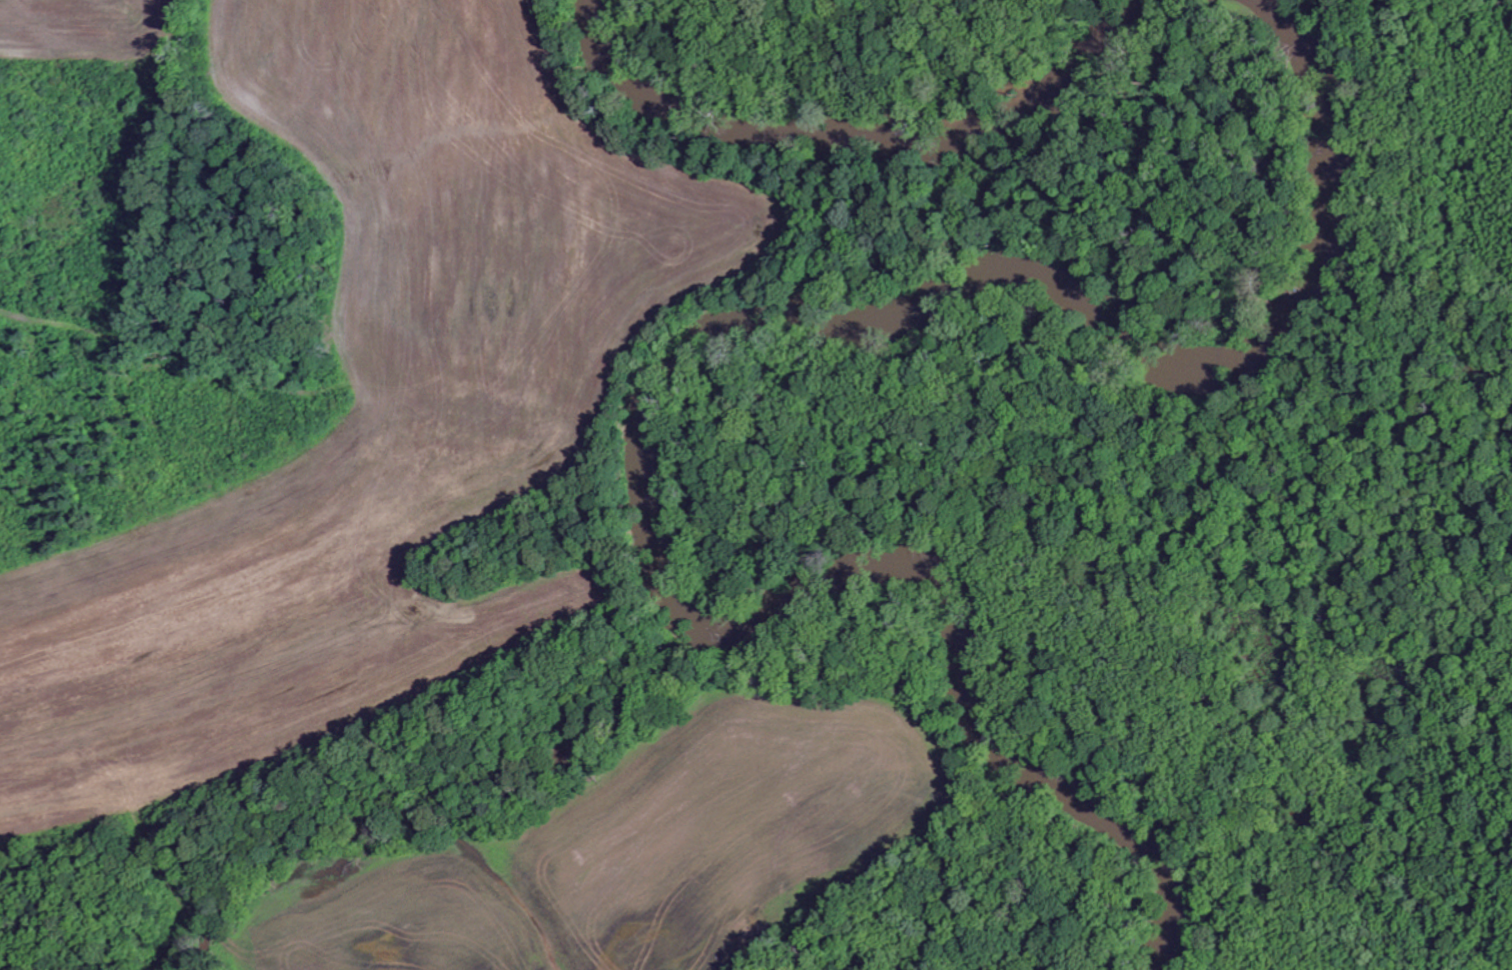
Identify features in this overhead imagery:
river: (873, 132)
river: (675, 379)

